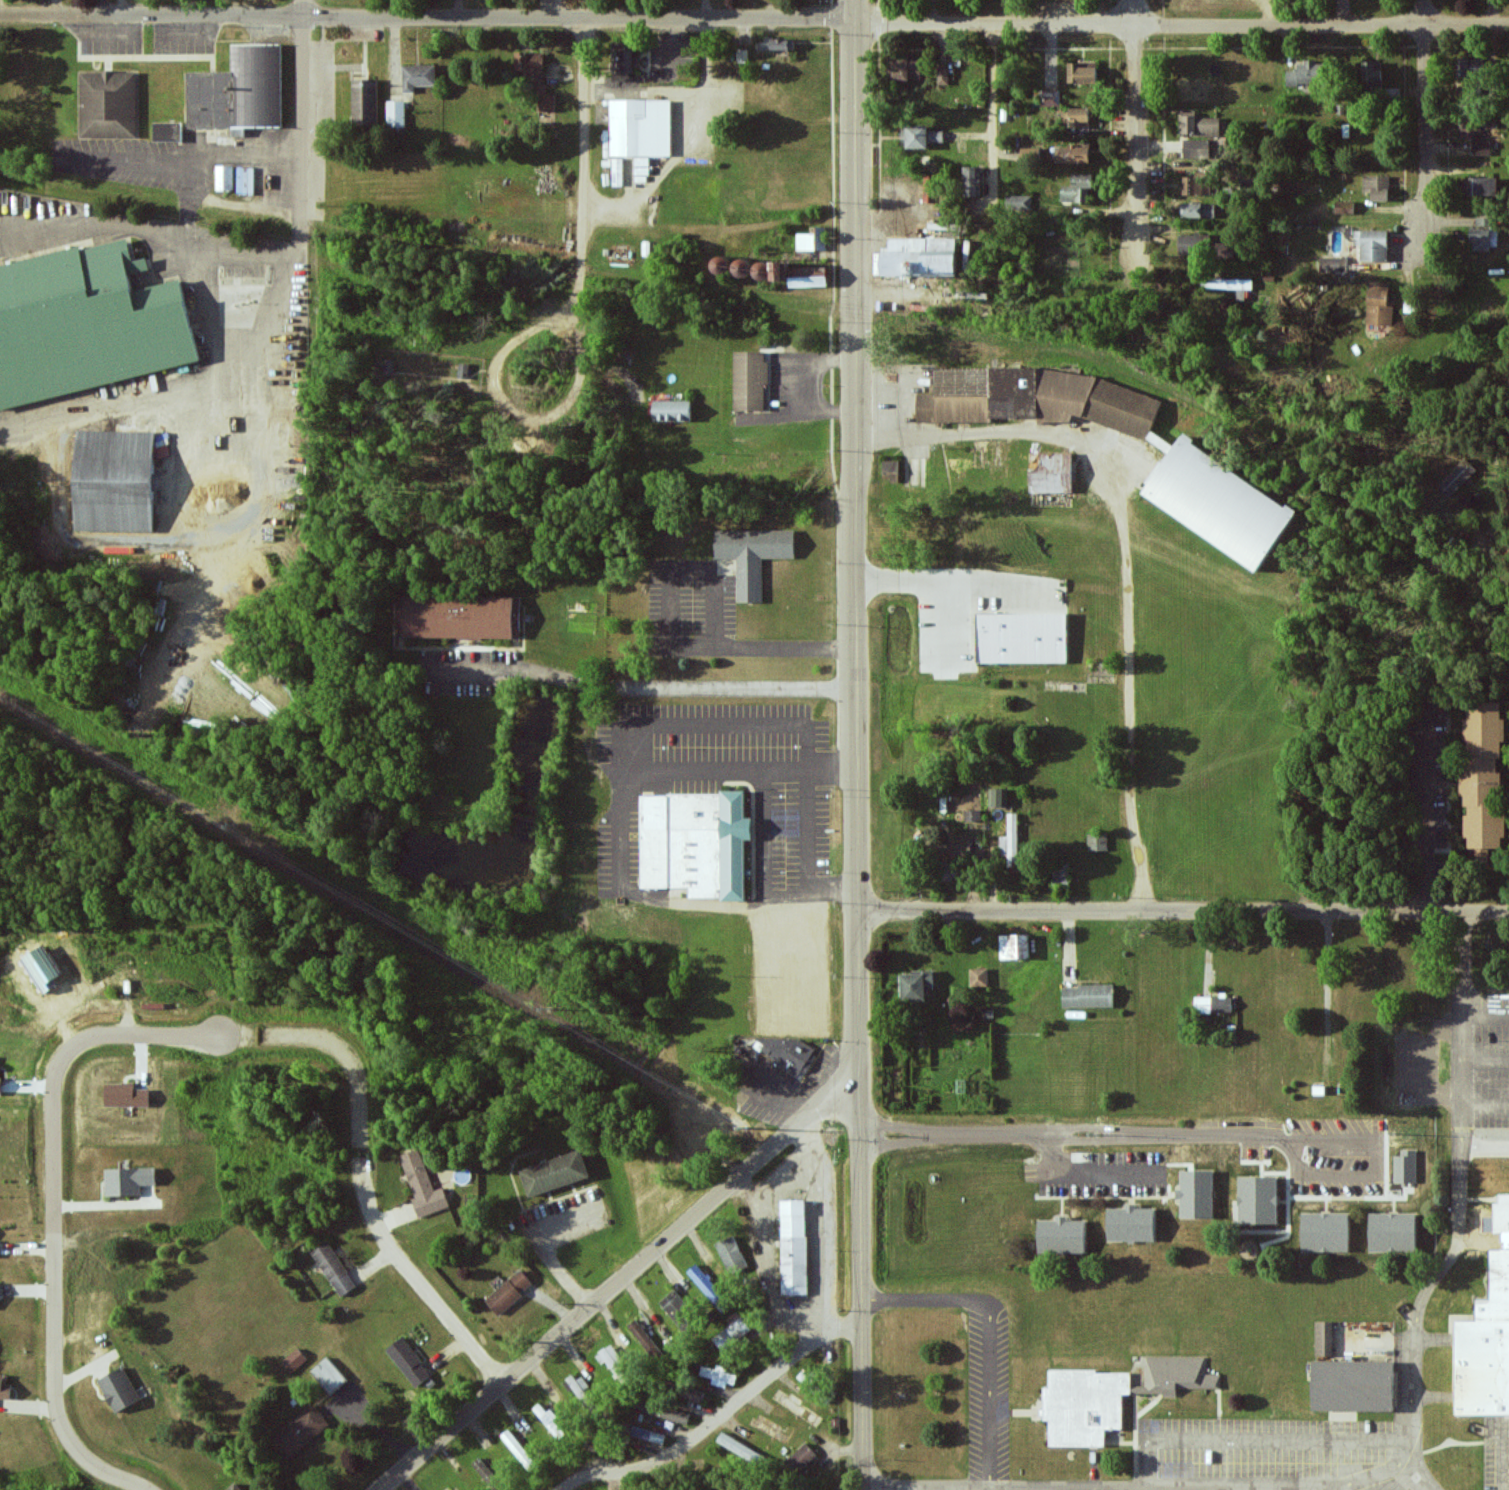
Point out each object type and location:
road: (428, 16)
road: (1182, 23)
building: (779, 45)
building: (623, 62)
building: (906, 69)
building: (1471, 69)
building: (1083, 72)
building: (1307, 74)
building: (1373, 74)
building: (943, 76)
building: (418, 77)
building: (536, 78)
road: (995, 86)
building: (240, 92)
building: (1050, 98)
road: (305, 100)
building: (365, 102)
building: (108, 105)
building: (396, 114)
road: (1135, 114)
building: (1081, 117)
building: (1199, 126)
building: (640, 129)
road: (1425, 130)
road: (584, 131)
building: (168, 132)
building: (920, 137)
building: (1475, 137)
building: (1073, 154)
building: (1190, 154)
building: (618, 172)
building: (225, 177)
building: (245, 180)
building: (974, 182)
building: (1482, 185)
building: (1377, 186)
building: (1197, 187)
building: (1078, 189)
building: (1019, 203)
building: (1345, 206)
building: (1200, 211)
building: (1484, 222)
building: (813, 239)
building: (1482, 239)
building: (1373, 243)
building: (1188, 244)
building: (920, 256)
building: (1334, 264)
building: (743, 266)
building: (803, 274)
building: (1232, 285)
building: (1380, 303)
building: (87, 322)
road: (246, 365)
building: (389, 365)
building: (463, 370)
building: (750, 380)
building: (1020, 396)
building: (672, 410)
building: (1163, 442)
building: (890, 470)
building: (1051, 472)
building: (1458, 477)
building: (115, 480)
building: (1220, 502)
road: (1125, 554)
building: (753, 555)
building: (459, 616)
building: (1024, 637)
road: (671, 638)
road: (647, 690)
road: (856, 745)
building: (1485, 777)
building: (998, 797)
building: (973, 815)
road: (1427, 815)
road: (809, 829)
building: (1011, 841)
building: (1098, 842)
building: (696, 843)
building: (1061, 874)
road: (1183, 913)
building: (1015, 946)
building: (42, 969)
building: (979, 977)
building: (917, 985)
building: (1089, 996)
building: (1223, 1004)
building: (1204, 1005)
road: (1485, 1015)
road: (148, 1033)
building: (785, 1053)
road: (1485, 1063)
building: (0, 1085)
building: (126, 1095)
road: (1484, 1108)
road: (893, 1127)
road: (1077, 1139)
road: (1335, 1140)
road: (1295, 1156)
road: (1375, 1158)
building: (1406, 1167)
building: (556, 1173)
road: (1336, 1174)
building: (129, 1181)
building: (423, 1185)
building: (1198, 1194)
building: (1259, 1200)
road: (1460, 1203)
building: (1133, 1224)
building: (1327, 1232)
building: (1395, 1232)
building: (1063, 1236)
building: (795, 1248)
building: (732, 1255)
building: (334, 1270)
road: (418, 1280)
road: (618, 1280)
building: (709, 1288)
building: (0, 1292)
building: (510, 1292)
building: (677, 1308)
building: (733, 1331)
road: (990, 1334)
building: (644, 1337)
building: (1487, 1337)
building: (1325, 1339)
building: (294, 1361)
building: (409, 1363)
building: (328, 1375)
building: (720, 1376)
building: (1177, 1376)
building: (1355, 1386)
building: (5, 1387)
building: (580, 1387)
building: (119, 1390)
road: (55, 1394)
building: (692, 1394)
building: (1085, 1406)
building: (664, 1411)
road: (719, 1417)
building: (549, 1421)
building: (300, 1432)
building: (649, 1435)
building: (741, 1449)
building: (519, 1451)
building: (801, 1459)
building: (484, 1470)
road: (1253, 1486)
building: (234, 1487)
road: (1188, 1489)

